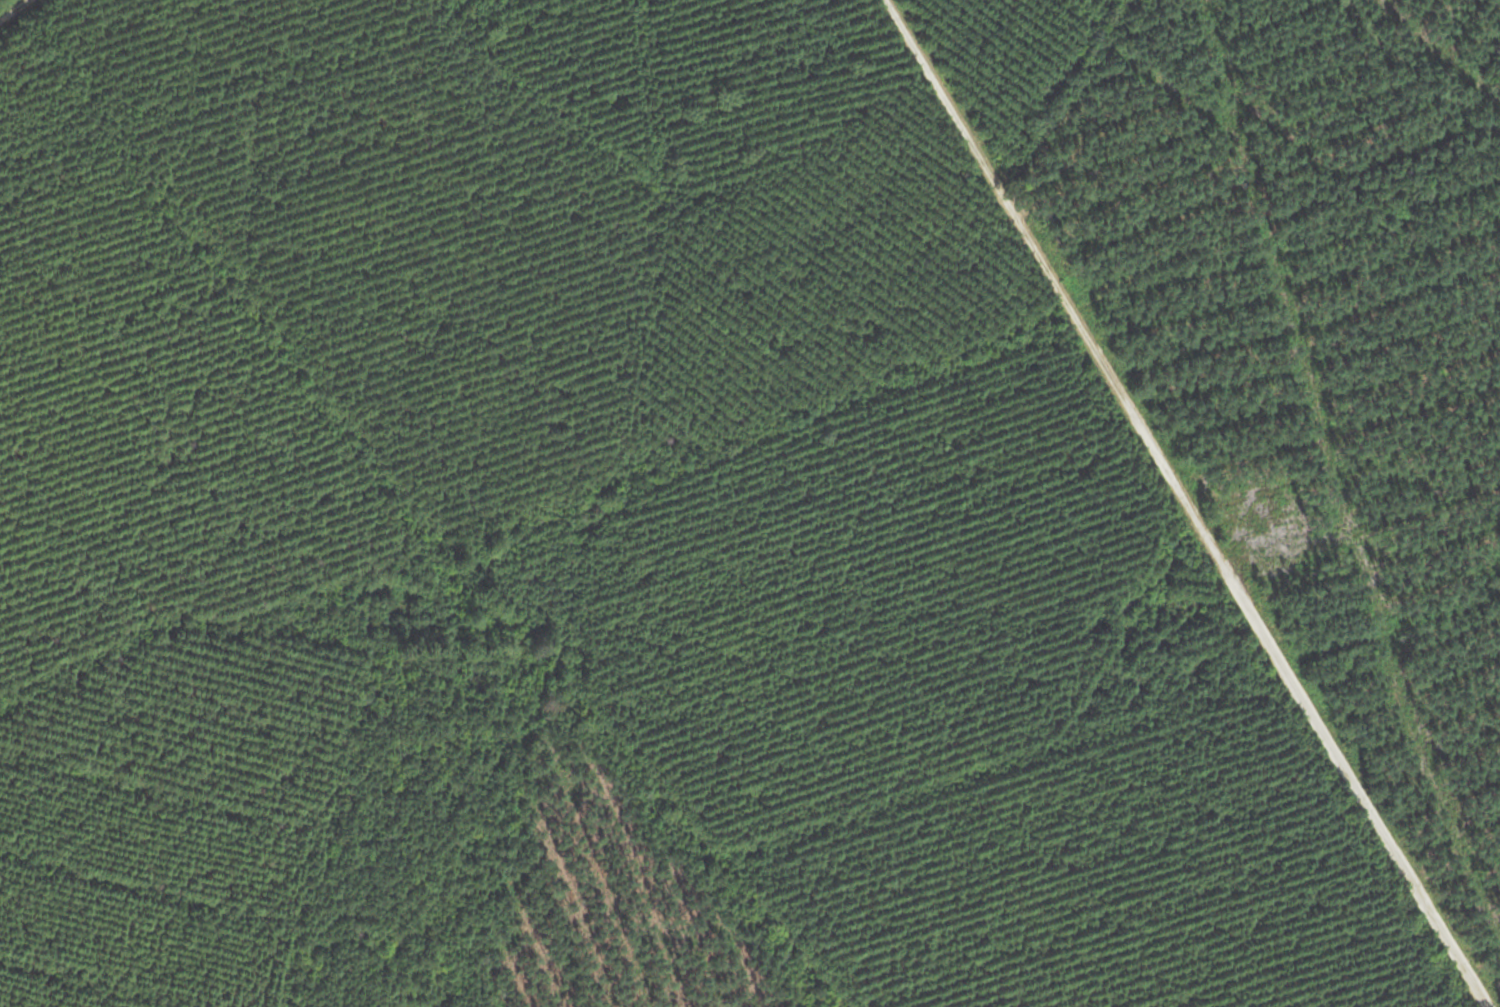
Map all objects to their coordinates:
road: (16, 11)
road: (1184, 503)

